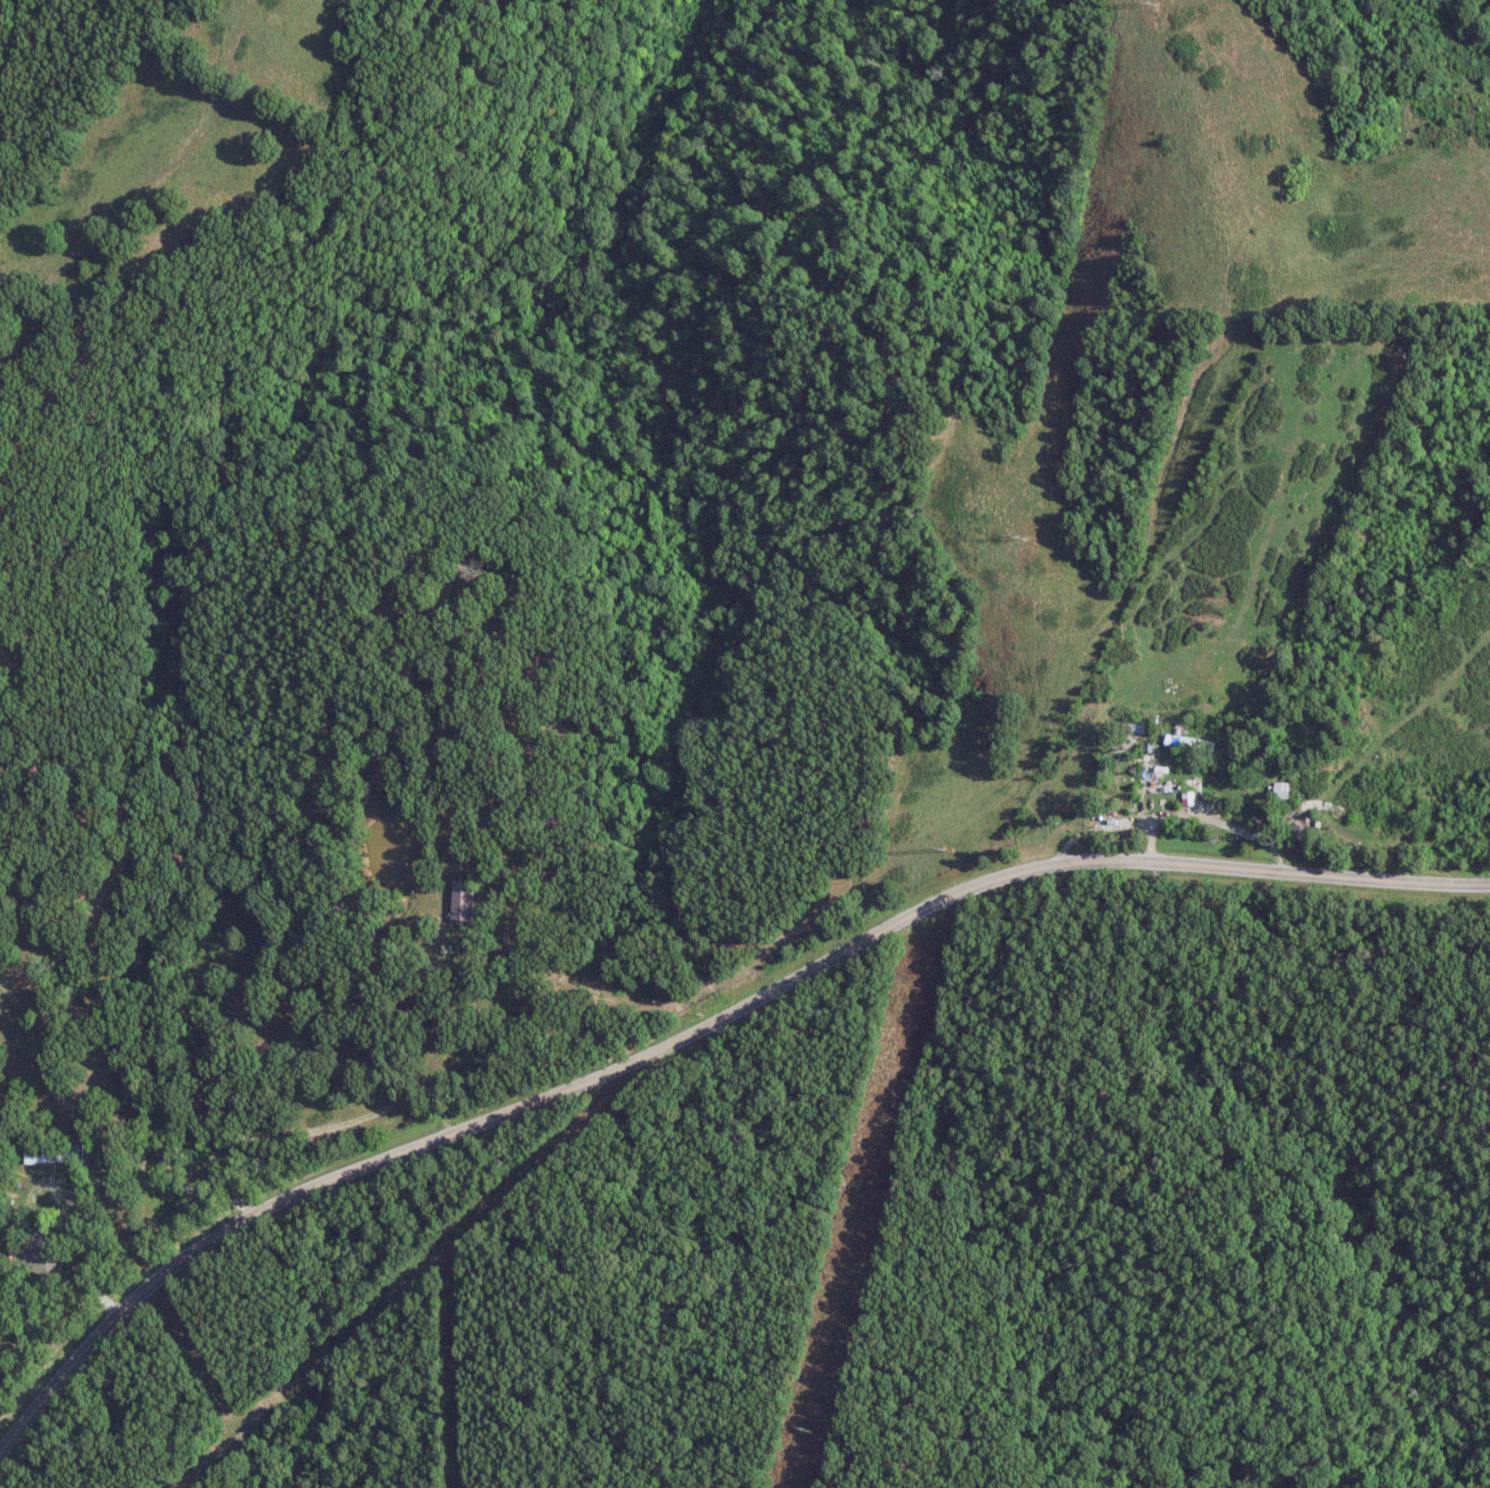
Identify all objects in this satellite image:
power tower: (1152, 3)
power tower: (1020, 537)
building: (1188, 742)
building: (1279, 790)
building: (1187, 797)
power tower: (944, 849)
building: (458, 900)
road: (696, 1029)
building: (33, 1151)
road: (99, 1181)
building: (33, 1251)
power tower: (807, 1432)

